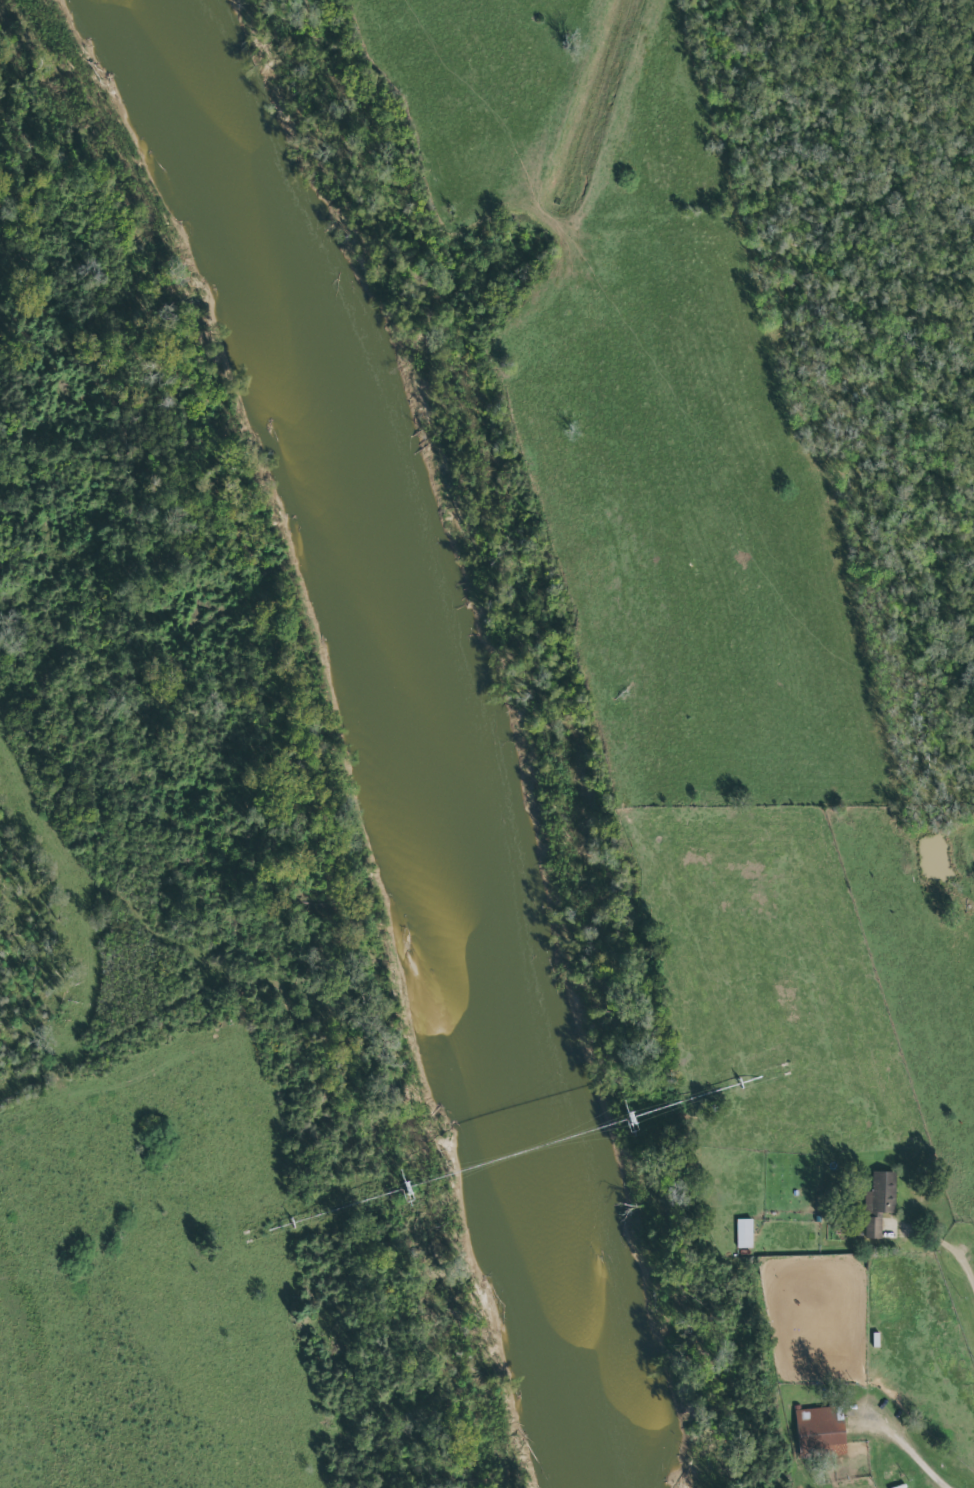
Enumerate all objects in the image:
road: (573, 707)
river: (416, 726)
building: (879, 1202)
building: (744, 1234)
road: (949, 1251)
building: (821, 1430)
road: (908, 1449)

